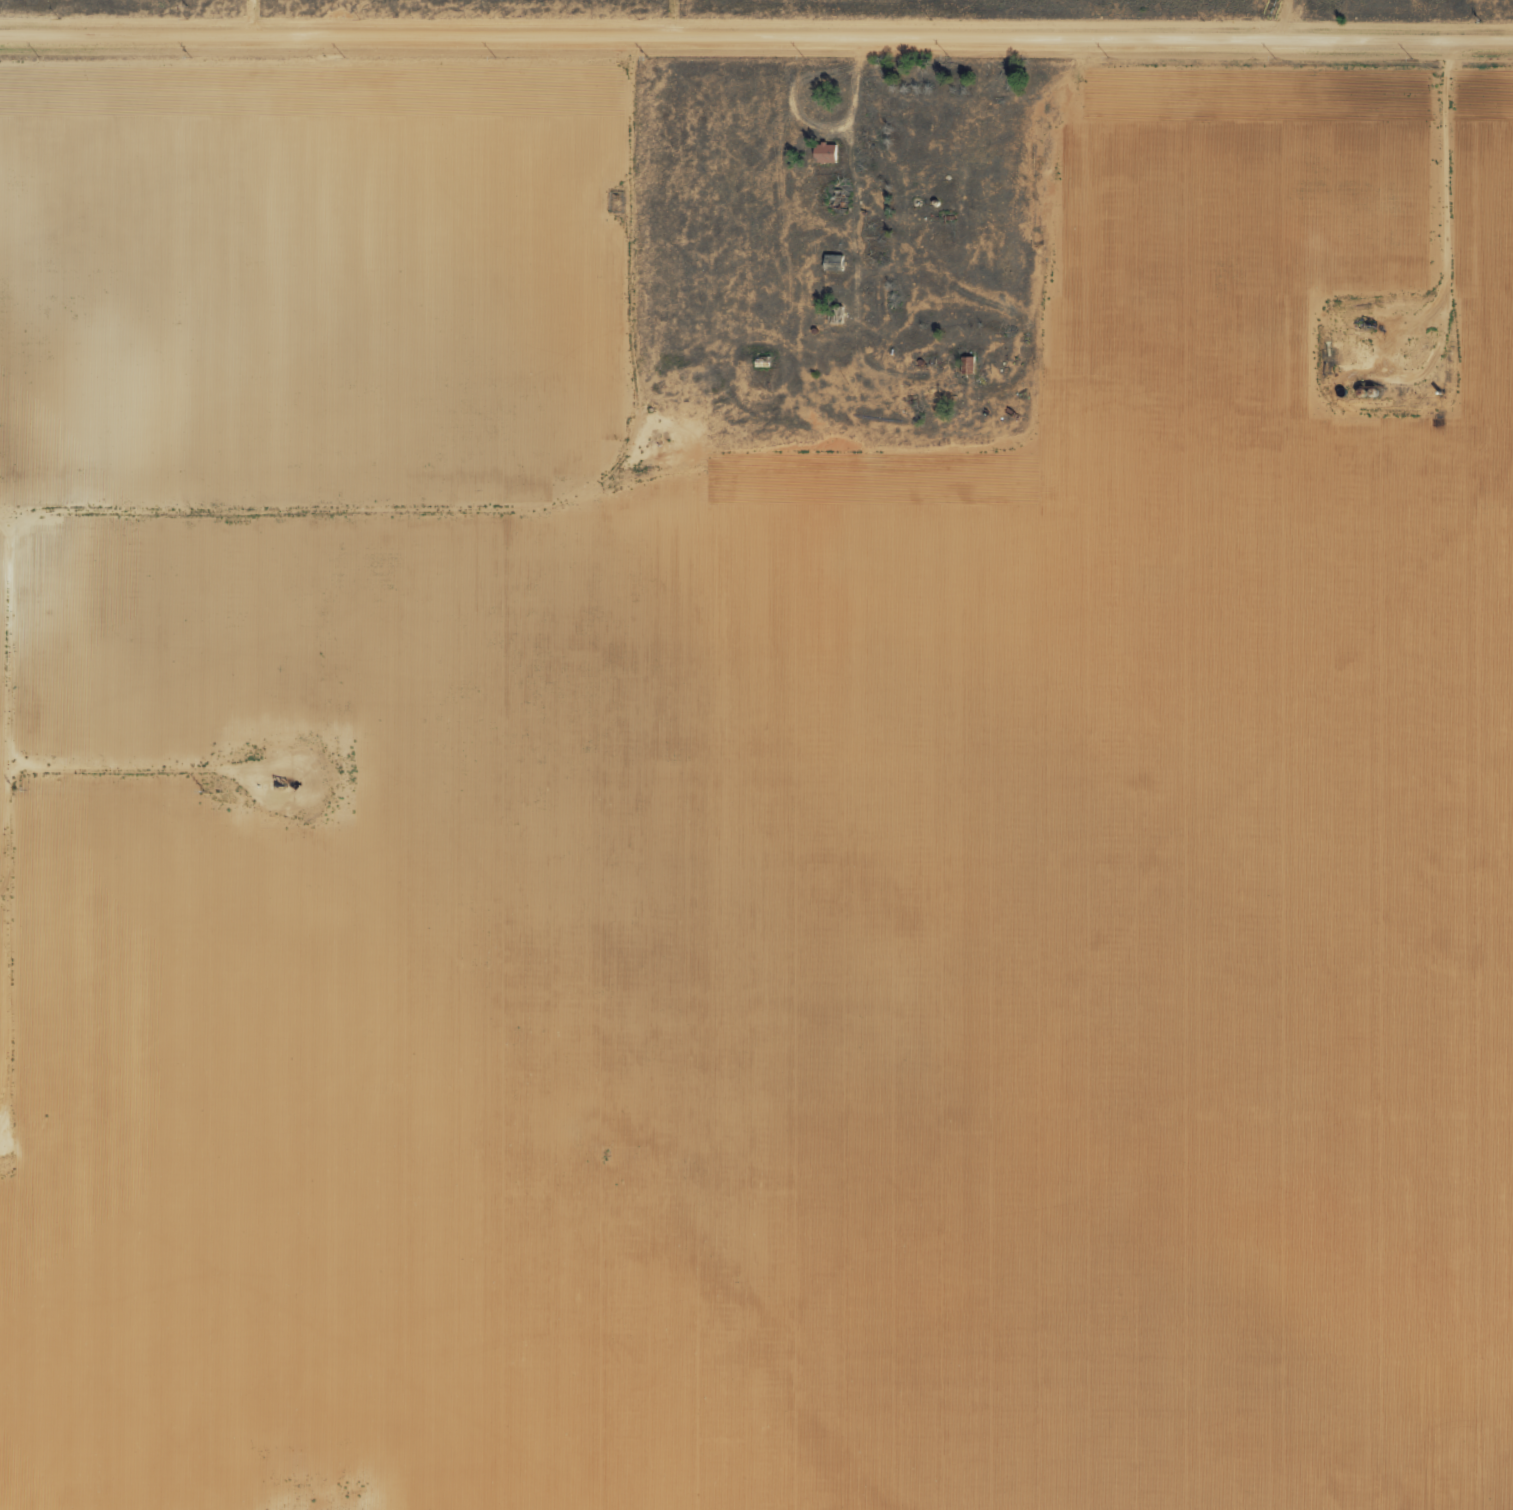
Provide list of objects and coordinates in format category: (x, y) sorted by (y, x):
road: (664, 11)
road: (756, 22)
road: (950, 316)
petroleum well: (1368, 323)
road: (304, 473)
petroleum well: (281, 781)

